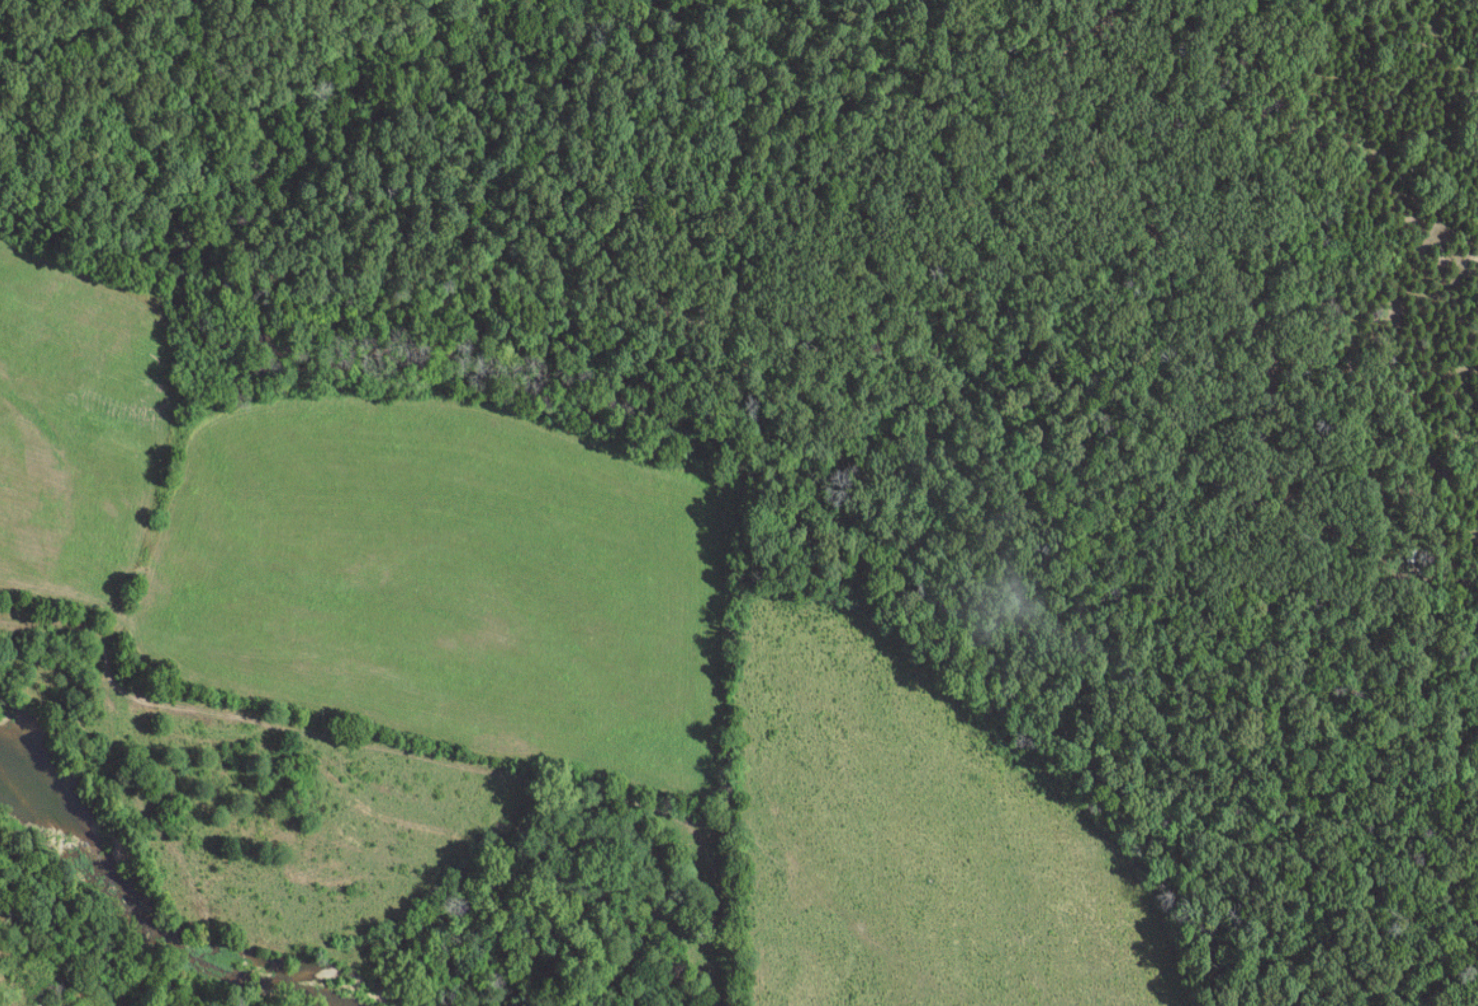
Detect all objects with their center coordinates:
road: (82, 619)

